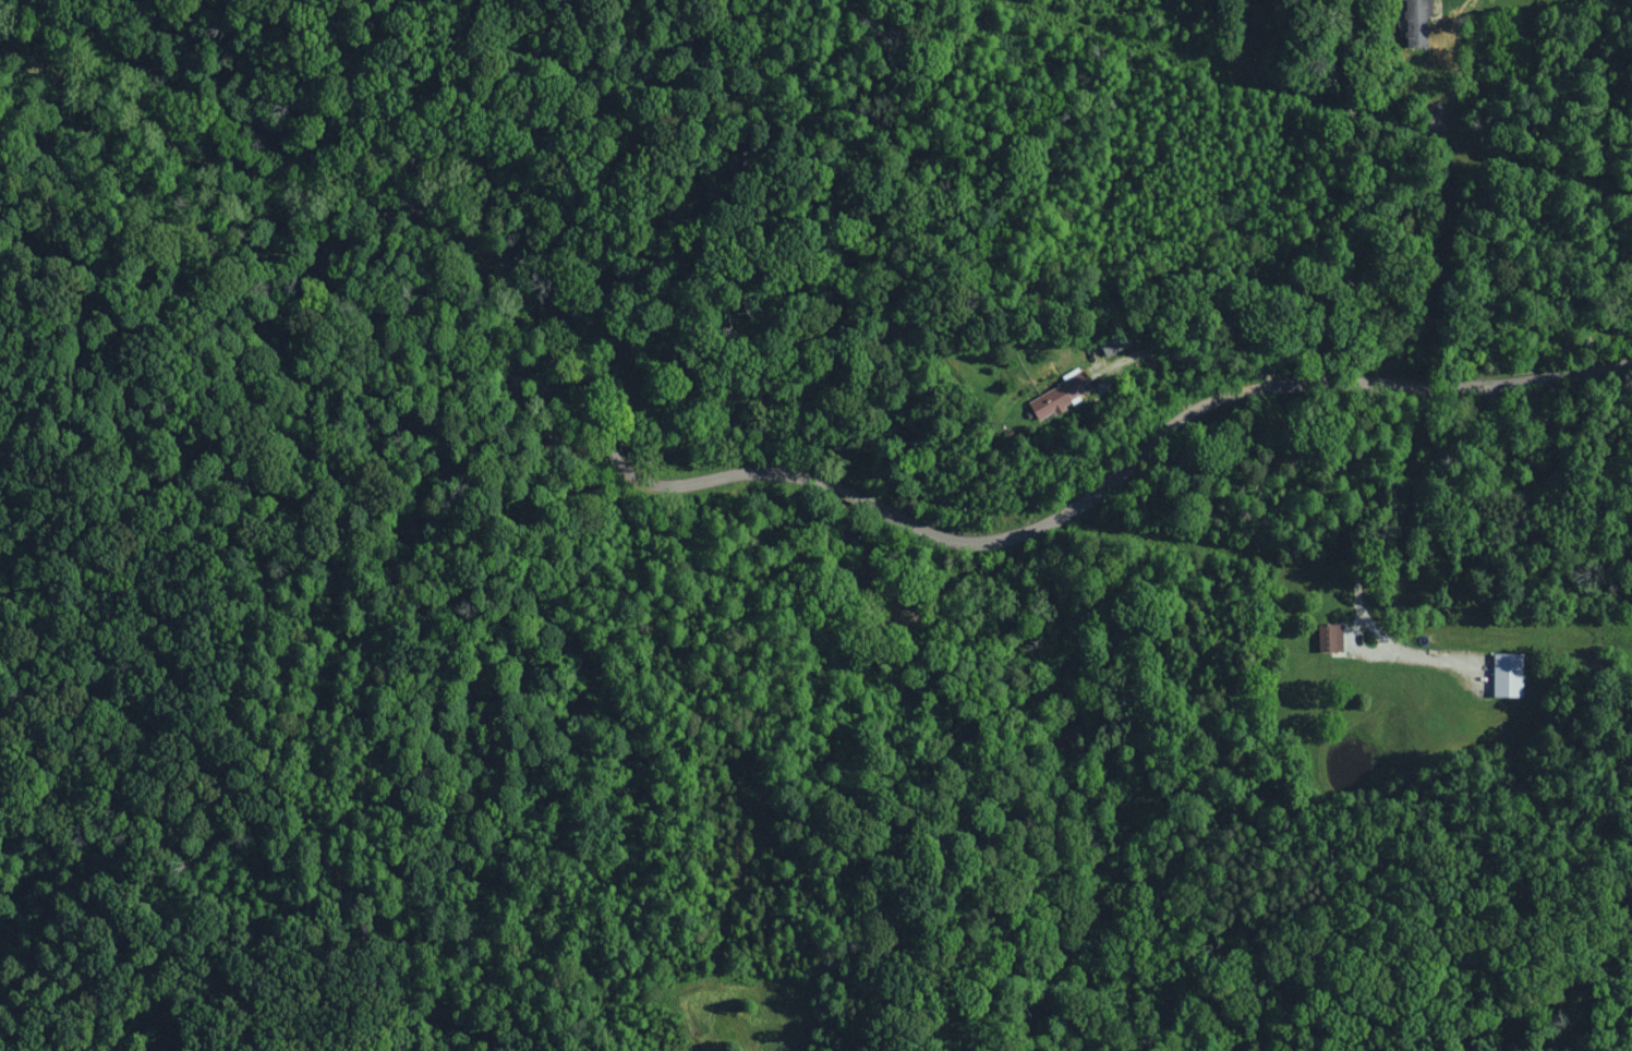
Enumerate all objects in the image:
road: (47, 3)
building: (1421, 22)
road: (80, 25)
road: (1351, 184)
building: (1062, 396)
road: (842, 464)
building: (1334, 638)
building: (1512, 676)

